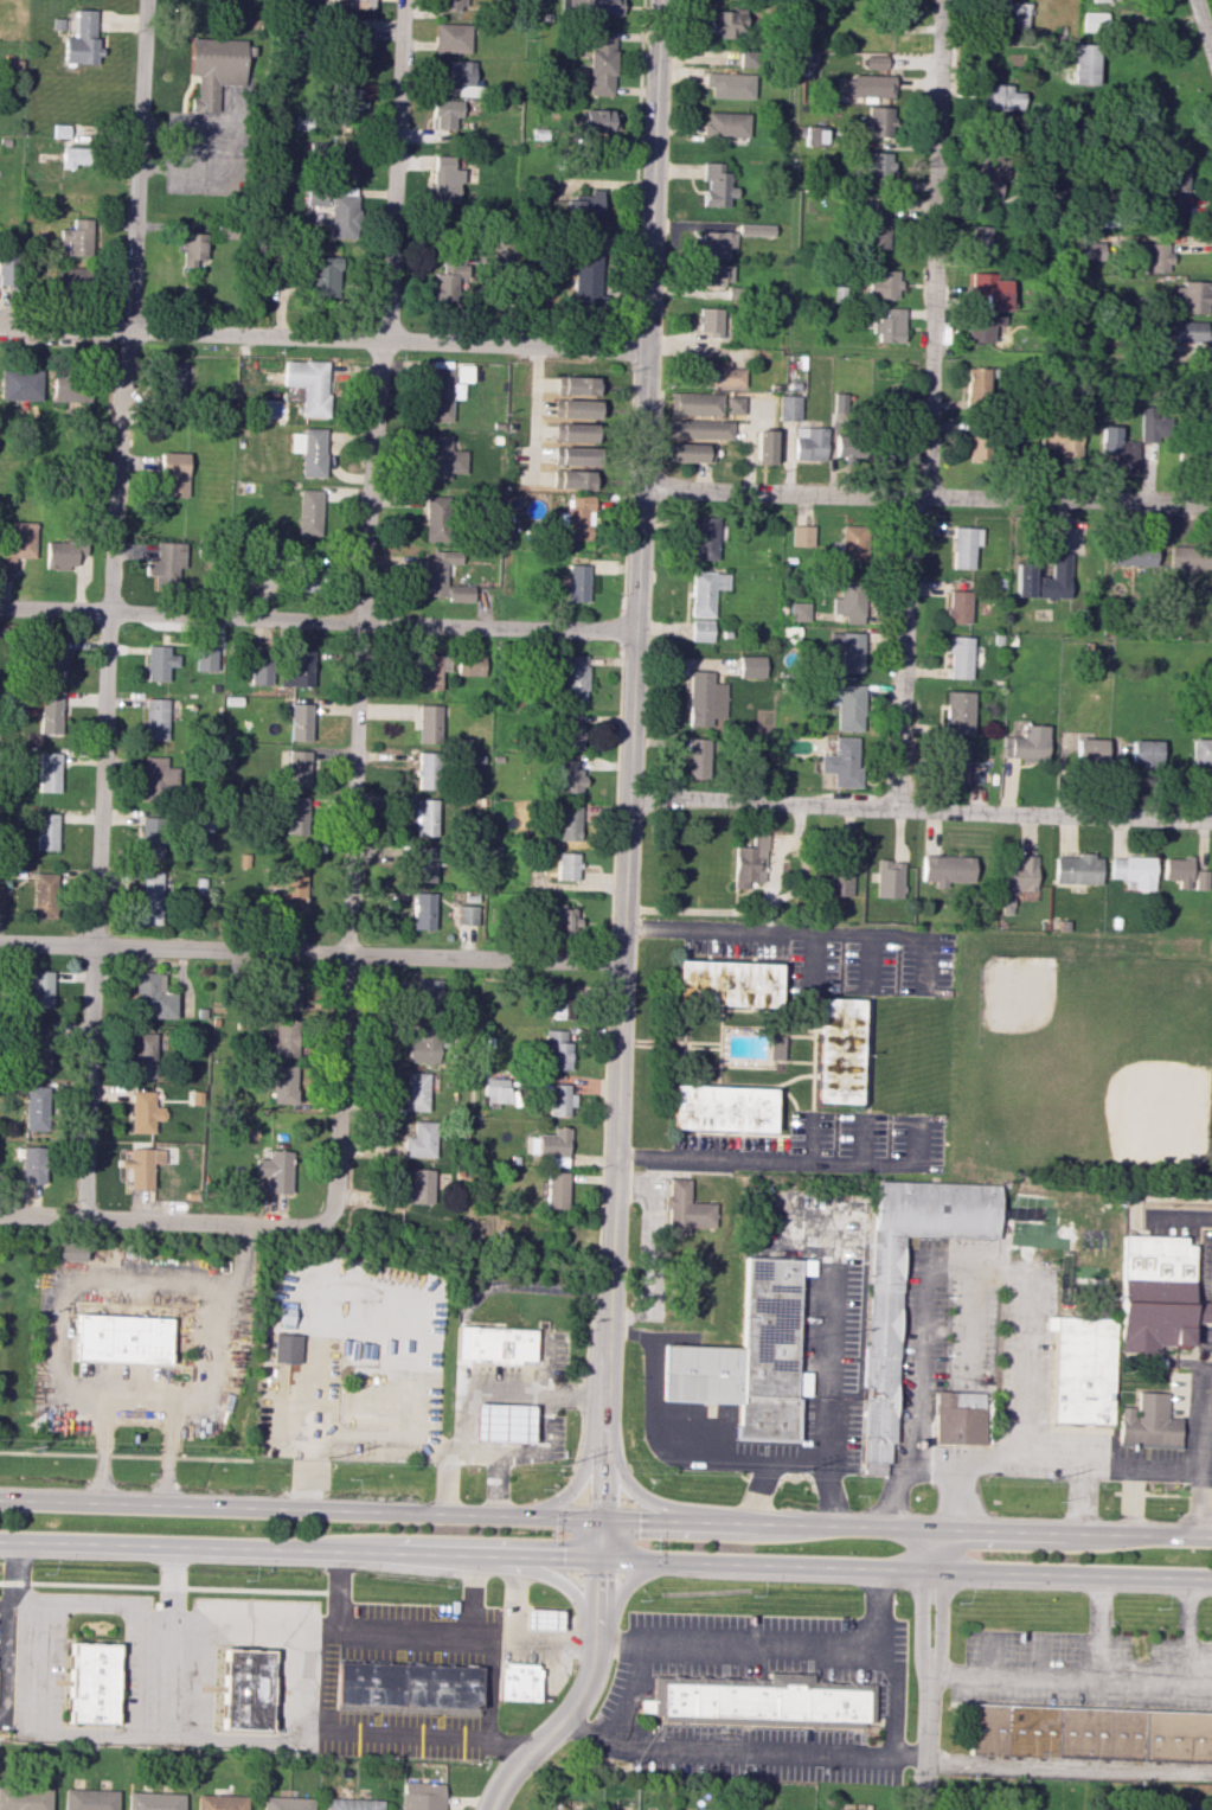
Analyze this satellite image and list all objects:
building: (1101, 0)
building: (354, 4)
building: (451, 5)
building: (592, 7)
building: (1013, 13)
building: (903, 15)
building: (1095, 21)
building: (727, 23)
road: (1203, 31)
building: (451, 38)
building: (82, 39)
building: (354, 47)
building: (745, 58)
building: (601, 62)
building: (876, 62)
building: (1084, 64)
building: (213, 69)
building: (464, 78)
building: (729, 84)
building: (867, 85)
building: (999, 97)
building: (346, 100)
building: (444, 113)
building: (601, 121)
building: (877, 121)
building: (725, 124)
building: (69, 130)
building: (814, 135)
road: (239, 148)
building: (73, 156)
building: (345, 164)
building: (876, 165)
building: (990, 174)
building: (444, 180)
building: (1175, 185)
building: (716, 186)
building: (315, 196)
building: (585, 206)
building: (341, 213)
building: (755, 229)
building: (874, 229)
building: (77, 237)
building: (716, 243)
building: (980, 243)
building: (190, 247)
building: (1091, 250)
building: (1155, 256)
building: (716, 274)
building: (325, 276)
building: (447, 276)
building: (70, 277)
building: (584, 279)
building: (883, 283)
building: (992, 289)
building: (1194, 295)
building: (711, 321)
building: (890, 326)
building: (983, 326)
building: (1188, 331)
road: (321, 339)
building: (714, 373)
building: (177, 379)
building: (20, 384)
building: (307, 384)
building: (577, 385)
building: (976, 385)
building: (70, 390)
building: (441, 394)
building: (694, 403)
building: (732, 404)
road: (929, 405)
building: (575, 408)
building: (788, 408)
building: (1150, 426)
building: (698, 429)
building: (573, 431)
building: (1062, 439)
building: (809, 442)
building: (977, 444)
building: (763, 446)
building: (845, 446)
building: (1118, 448)
building: (887, 449)
building: (308, 450)
building: (690, 452)
building: (572, 455)
building: (442, 458)
building: (173, 473)
building: (571, 479)
road: (925, 497)
building: (309, 512)
building: (436, 518)
building: (575, 518)
building: (801, 535)
building: (705, 537)
building: (851, 542)
building: (17, 543)
building: (963, 545)
building: (59, 555)
building: (1133, 555)
building: (1189, 557)
building: (169, 562)
building: (437, 571)
building: (1044, 578)
building: (577, 582)
building: (705, 591)
building: (458, 593)
building: (849, 601)
building: (957, 606)
road: (108, 608)
road: (361, 609)
building: (799, 610)
road: (316, 620)
building: (700, 629)
building: (848, 650)
building: (958, 657)
building: (51, 658)
building: (205, 658)
building: (159, 661)
building: (469, 664)
building: (751, 666)
building: (296, 667)
building: (259, 670)
building: (428, 672)
building: (571, 676)
building: (704, 698)
building: (847, 706)
building: (956, 712)
building: (49, 714)
building: (158, 717)
building: (299, 721)
building: (429, 723)
building: (571, 730)
building: (1026, 743)
building: (1091, 749)
building: (1201, 751)
building: (1146, 753)
building: (697, 757)
building: (841, 762)
building: (954, 762)
building: (296, 768)
building: (427, 770)
building: (47, 772)
building: (569, 776)
building: (158, 778)
road: (627, 778)
road: (919, 808)
building: (296, 814)
building: (425, 817)
building: (567, 821)
building: (45, 831)
building: (150, 837)
building: (750, 862)
building: (424, 864)
building: (566, 865)
building: (947, 869)
building: (1078, 869)
building: (1134, 871)
building: (1178, 871)
building: (838, 877)
building: (889, 878)
building: (1017, 880)
building: (1200, 880)
building: (291, 889)
building: (43, 895)
building: (148, 897)
road: (749, 909)
building: (422, 910)
building: (467, 914)
road: (768, 917)
building: (565, 920)
road: (801, 935)
road: (310, 951)
road: (817, 962)
road: (870, 965)
building: (729, 983)
building: (39, 989)
building: (287, 991)
building: (428, 996)
building: (152, 997)
building: (562, 1000)
building: (280, 1041)
building: (423, 1045)
building: (775, 1047)
building: (38, 1048)
building: (557, 1050)
road: (815, 1050)
building: (836, 1050)
road: (868, 1053)
building: (145, 1055)
park: (1082, 1061)
building: (282, 1083)
building: (415, 1091)
building: (495, 1092)
building: (559, 1099)
building: (36, 1107)
building: (720, 1108)
building: (143, 1112)
road: (812, 1139)
building: (419, 1140)
road: (867, 1140)
building: (552, 1146)
building: (32, 1164)
building: (141, 1165)
road: (788, 1165)
building: (274, 1170)
building: (417, 1187)
building: (554, 1189)
building: (685, 1209)
road: (165, 1221)
building: (70, 1251)
road: (1009, 1272)
road: (75, 1287)
building: (1156, 1293)
road: (339, 1299)
road: (211, 1324)
building: (123, 1338)
building: (494, 1343)
building: (286, 1348)
building: (880, 1351)
building: (750, 1357)
road: (822, 1366)
building: (1080, 1368)
road: (494, 1387)
road: (134, 1412)
building: (957, 1418)
building: (501, 1422)
building: (1147, 1422)
road: (918, 1425)
road: (647, 1428)
power tower: (21, 1446)
road: (530, 1452)
power tower: (327, 1456)
road: (1201, 1456)
road: (793, 1462)
power tower: (557, 1463)
road: (934, 1465)
road: (578, 1466)
road: (1077, 1466)
power tower: (787, 1472)
power tower: (1043, 1478)
road: (448, 1480)
road: (499, 1484)
road: (639, 1492)
road: (890, 1494)
road: (1078, 1502)
road: (1131, 1503)
road: (950, 1515)
traffic signals: (599, 1521)
road: (605, 1521)
traffic signals: (598, 1558)
road: (605, 1558)
road: (551, 1576)
road: (630, 1585)
road: (167, 1586)
road: (171, 1595)
road: (335, 1606)
road: (883, 1608)
building: (543, 1620)
gas station: (543, 1620)
road: (0, 1627)
road: (1098, 1627)
road: (1187, 1631)
road: (442, 1632)
road: (514, 1638)
road: (790, 1648)
road: (926, 1670)
road: (1069, 1681)
building: (90, 1682)
building: (515, 1682)
gas station: (515, 1682)
road: (489, 1684)
road: (296, 1686)
building: (406, 1687)
building: (245, 1689)
road: (191, 1691)
road: (629, 1693)
road: (577, 1699)
building: (758, 1701)
road: (142, 1720)
building: (1090, 1735)
road: (412, 1742)
road: (739, 1751)
road: (1067, 1765)
building: (421, 1796)
building: (24, 1798)
building: (88, 1799)
building: (153, 1801)
building: (219, 1802)
building: (286, 1803)
building: (351, 1804)
building: (553, 1809)

